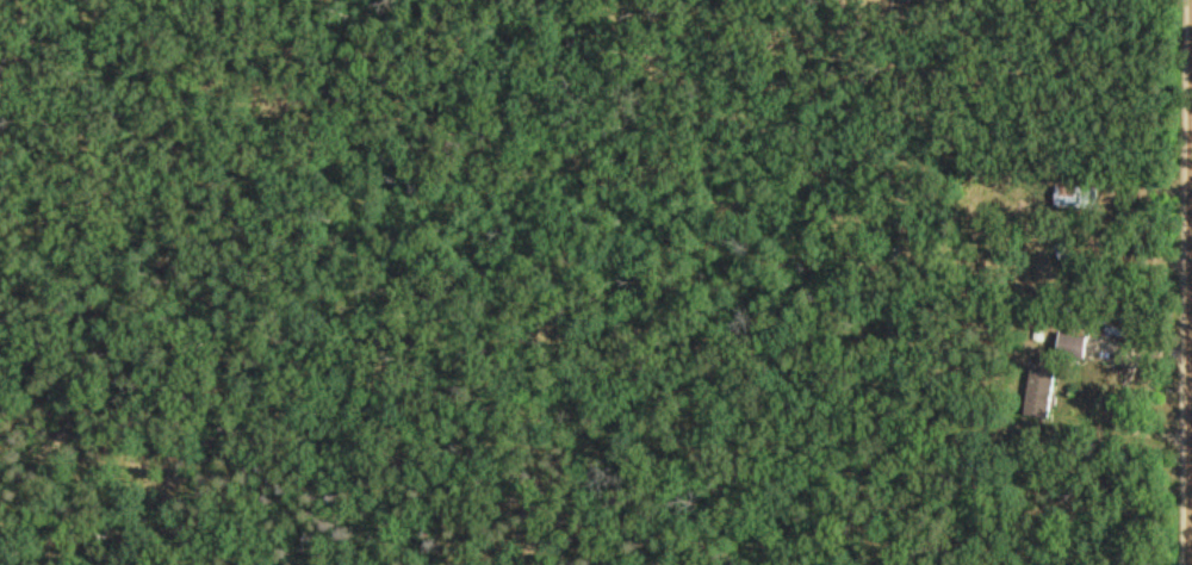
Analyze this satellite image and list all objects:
building: (1078, 195)
road: (1191, 282)
building: (1078, 343)
building: (1044, 390)

